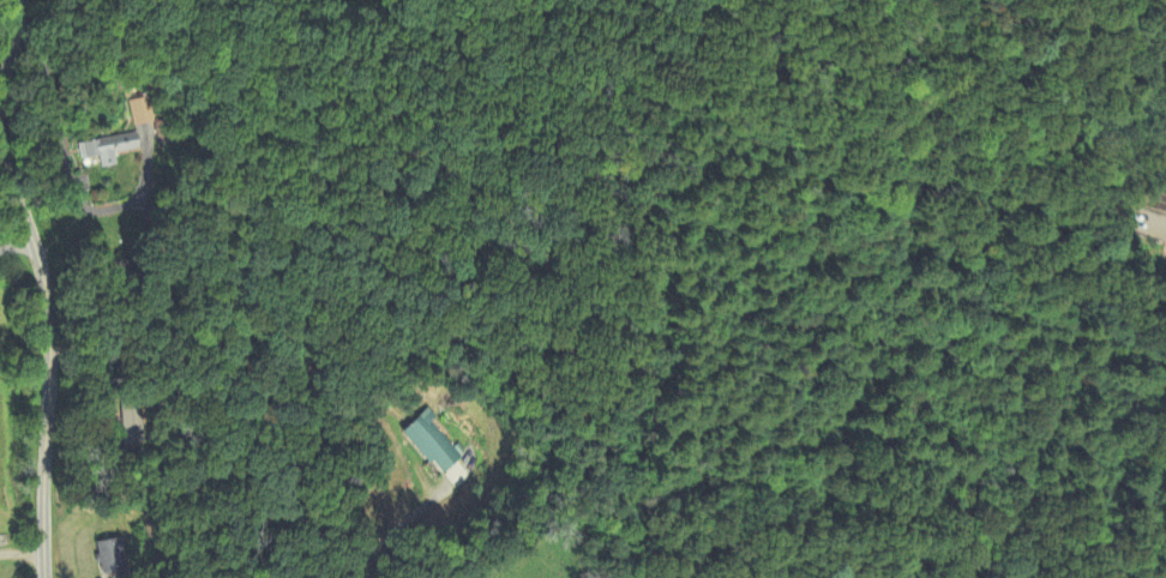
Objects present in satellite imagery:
road: (52, 92)
building: (120, 139)
road: (17, 248)
road: (46, 285)
building: (434, 442)
road: (395, 531)
building: (113, 555)

